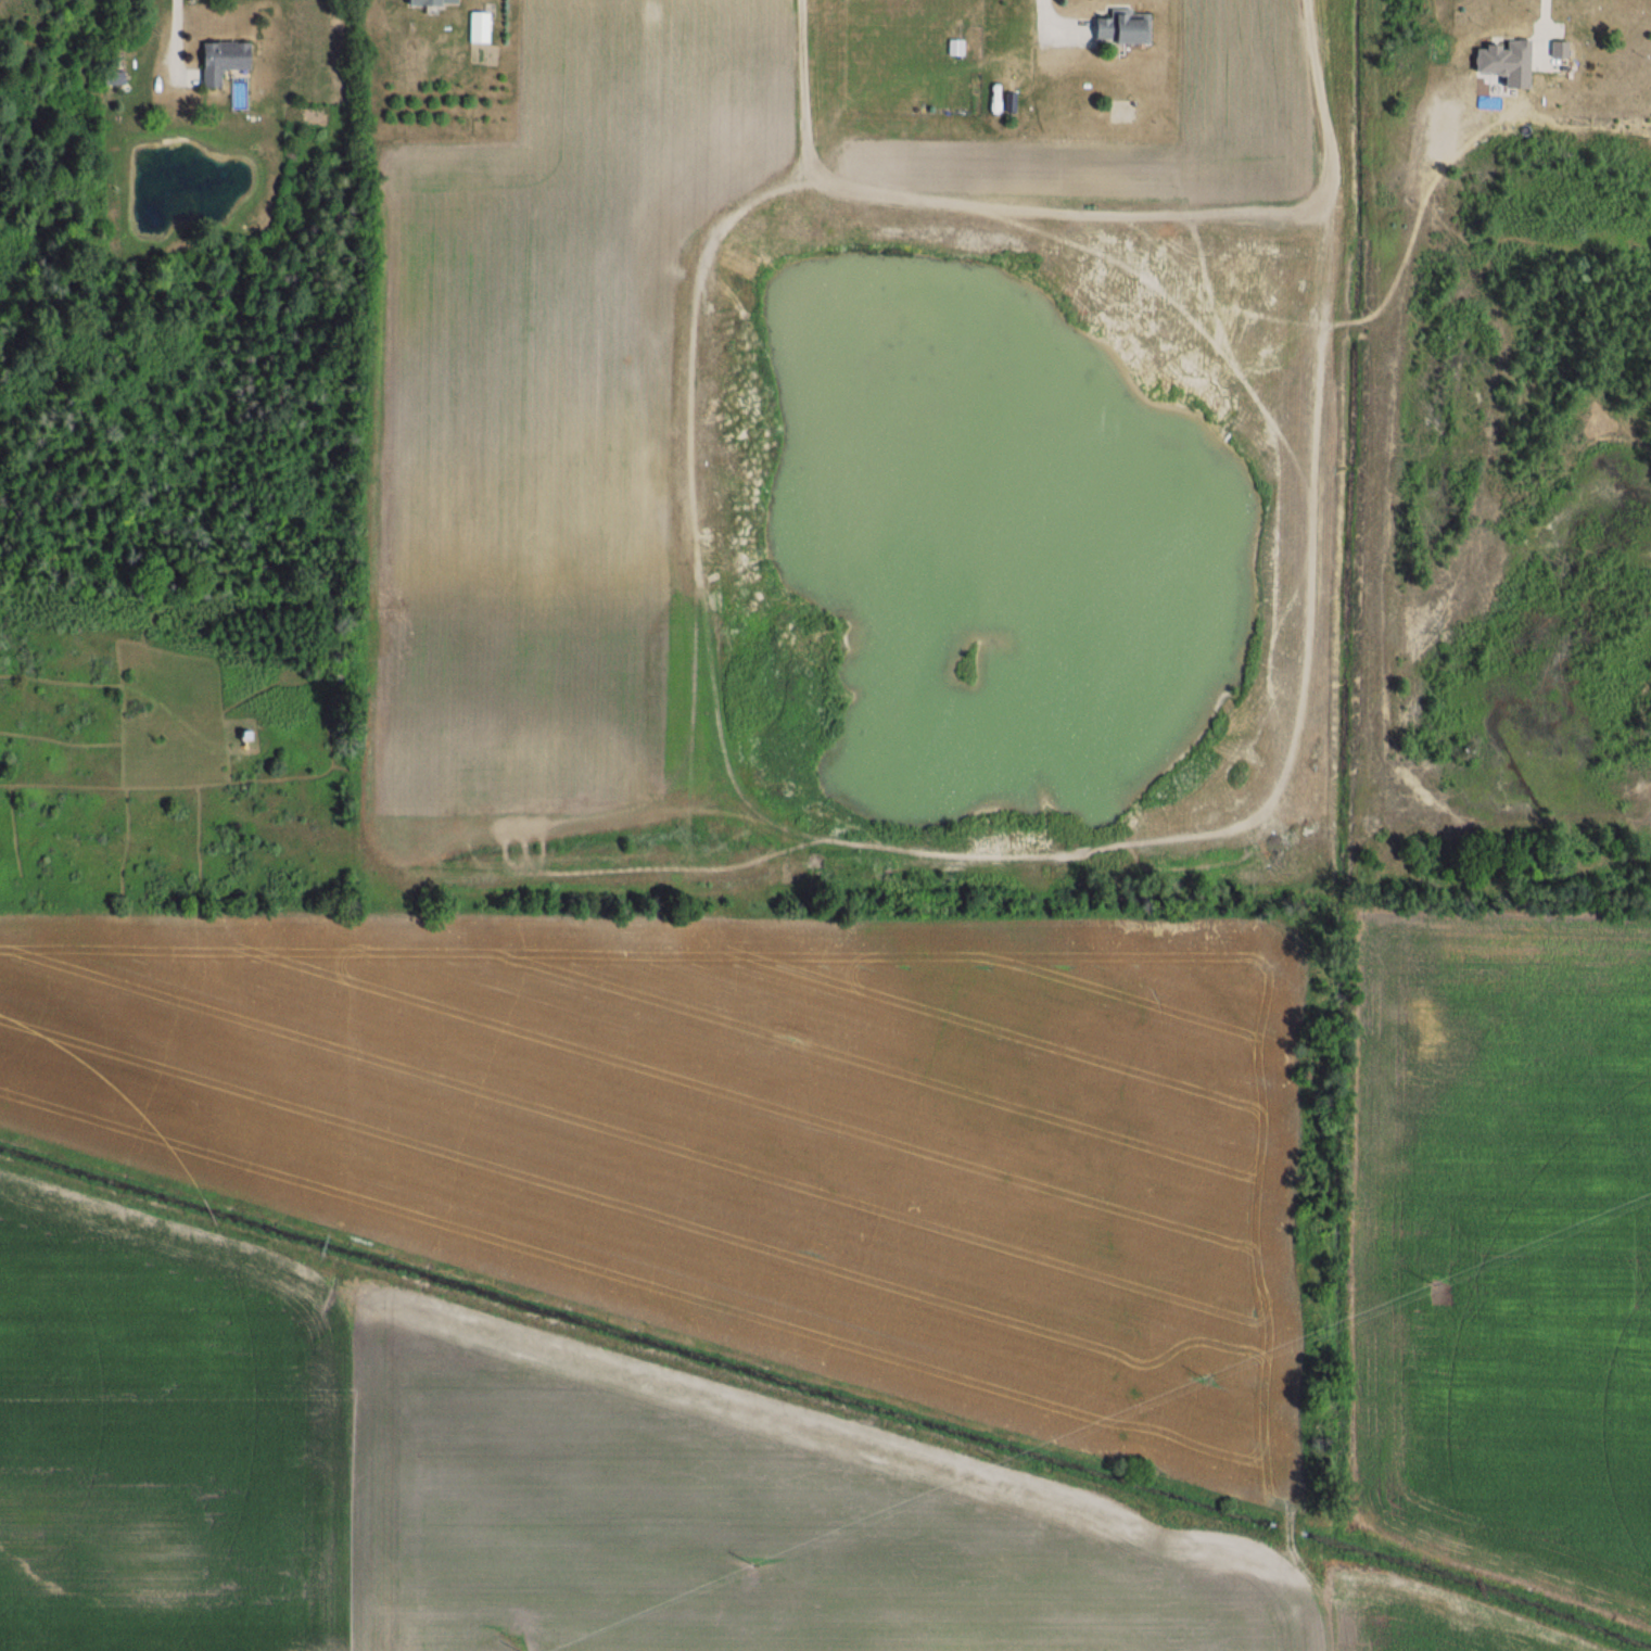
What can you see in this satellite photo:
building: (430, 2)
road: (1057, 22)
road: (1541, 26)
building: (480, 28)
building: (1118, 28)
road: (167, 43)
building: (219, 60)
building: (112, 78)

